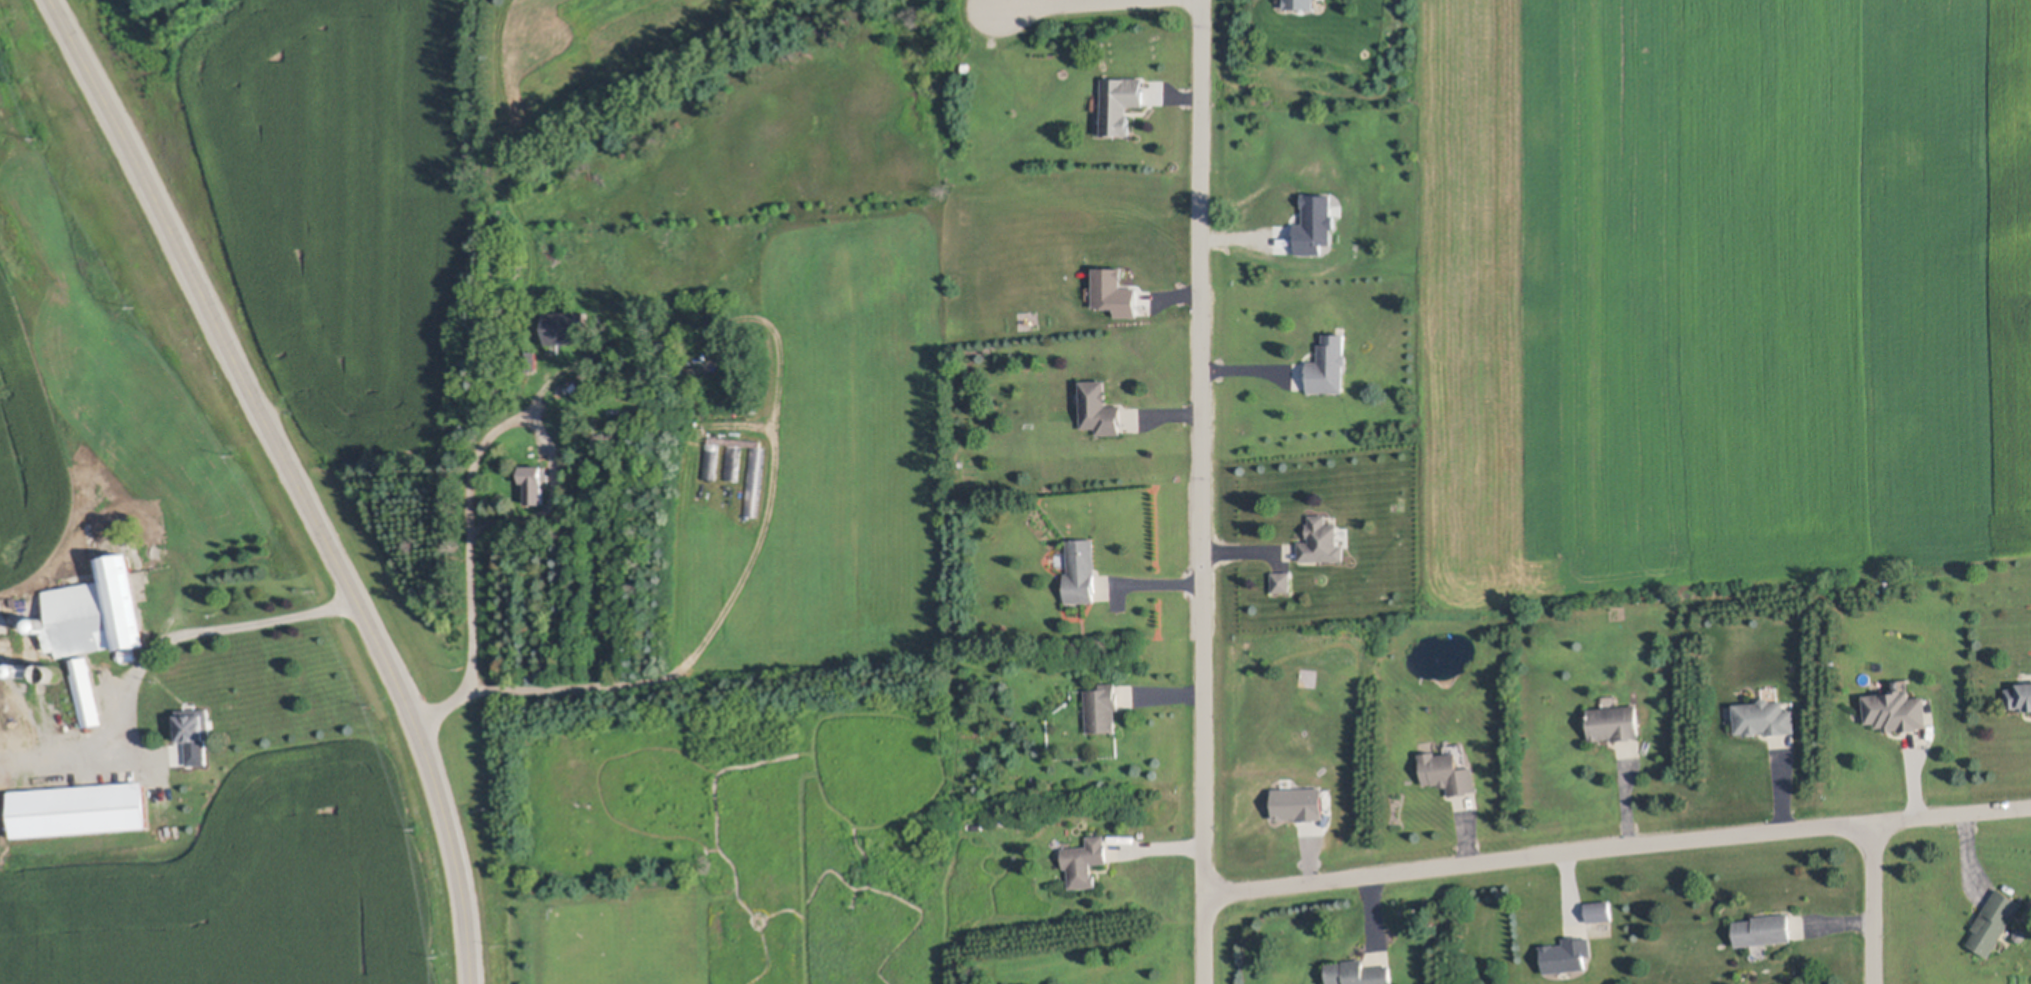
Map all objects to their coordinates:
road: (1058, 3)
building: (1301, 4)
building: (1120, 103)
building: (1316, 226)
building: (1115, 293)
building: (567, 327)
building: (532, 360)
building: (1329, 364)
building: (621, 387)
building: (1100, 408)
road: (294, 480)
building: (536, 481)
road: (474, 483)
road: (1203, 492)
building: (1323, 540)
building: (1082, 570)
building: (1283, 581)
building: (96, 612)
road: (174, 637)
building: (128, 653)
building: (1700, 653)
building: (24, 670)
building: (87, 691)
building: (2020, 696)
building: (1102, 707)
building: (1897, 710)
building: (1764, 717)
building: (1615, 722)
building: (195, 723)
building: (1450, 769)
building: (1300, 804)
building: (80, 808)
road: (1951, 816)
road: (1540, 858)
building: (1085, 861)
road: (1873, 904)
building: (1600, 910)
building: (1994, 921)
building: (1763, 930)
building: (2020, 934)
building: (1567, 954)
building: (1357, 973)

